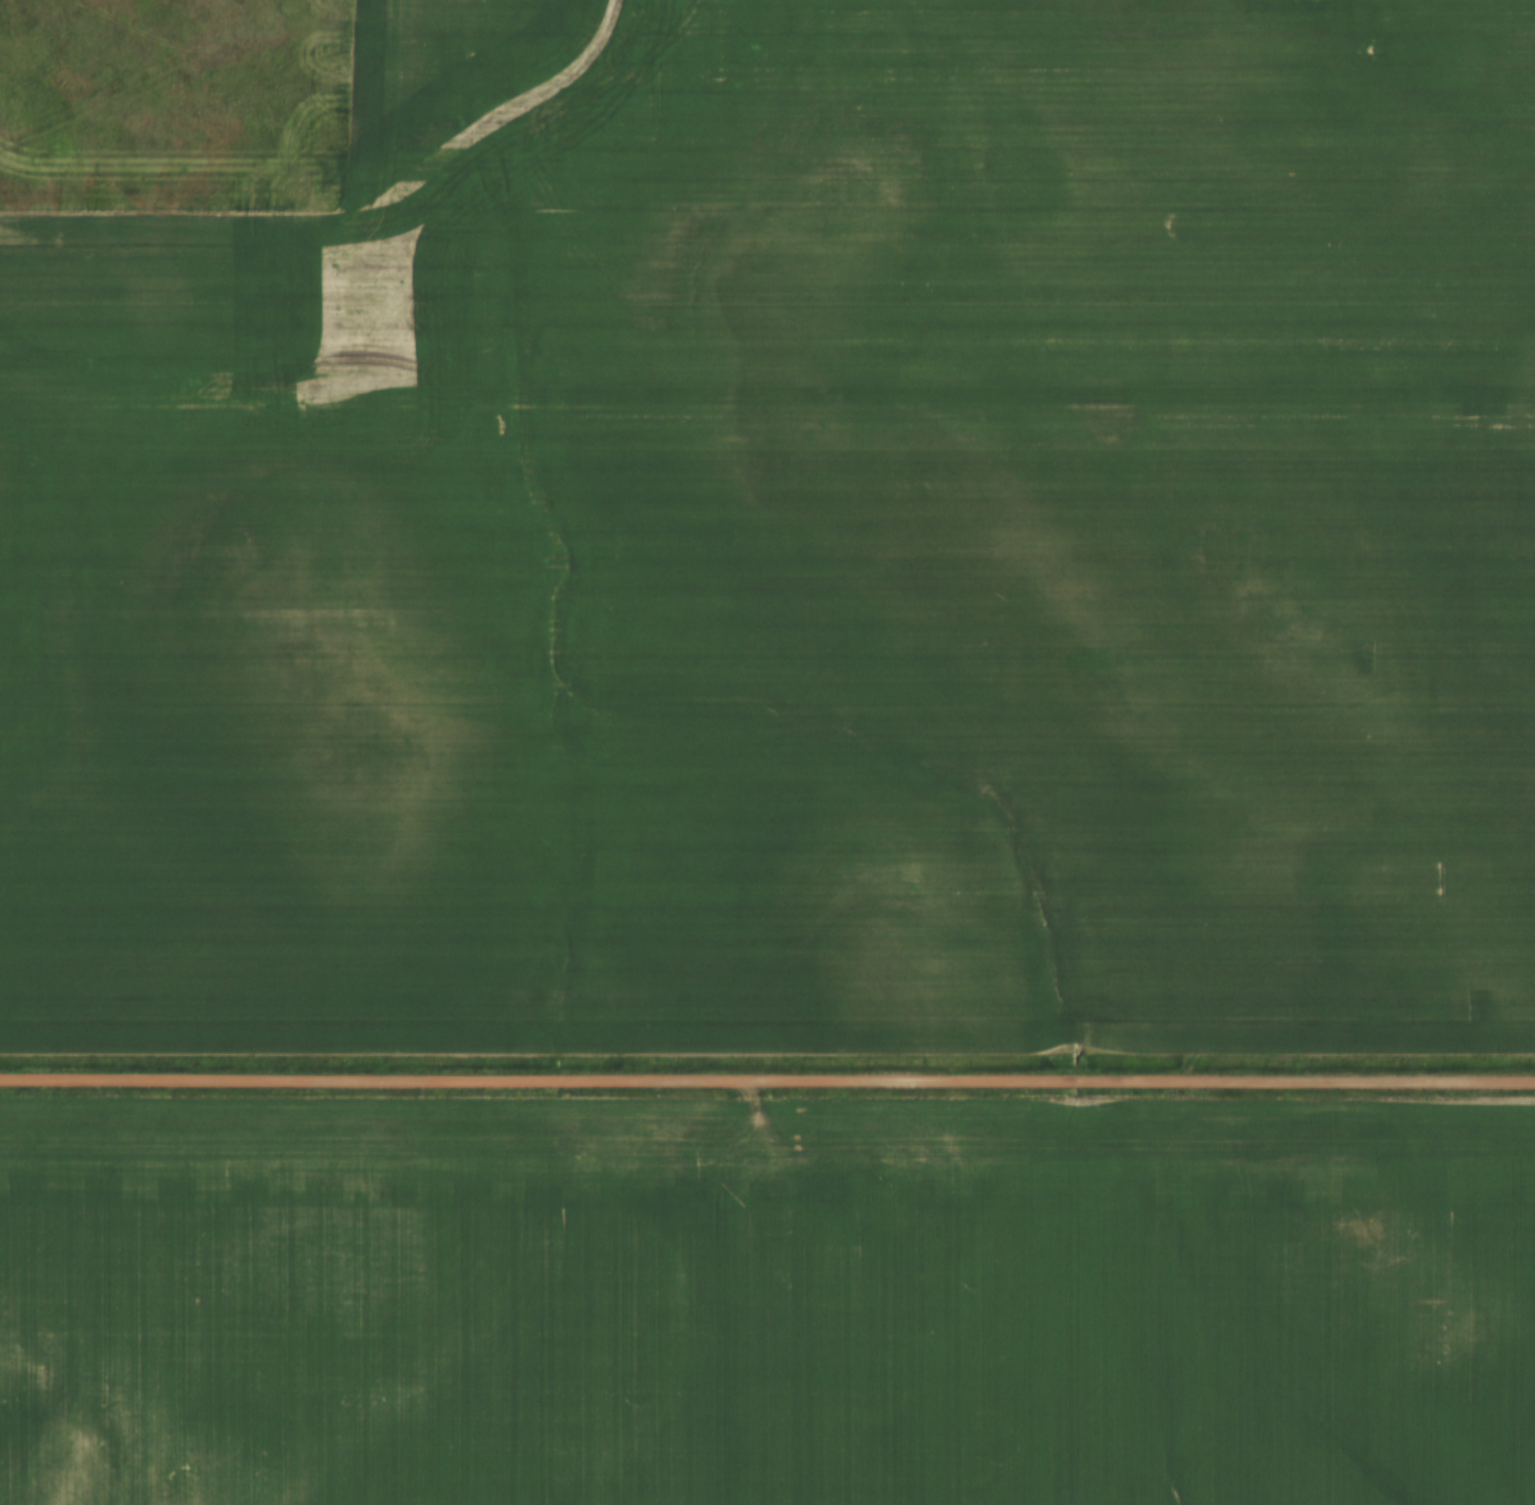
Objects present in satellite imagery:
road: (767, 1080)

